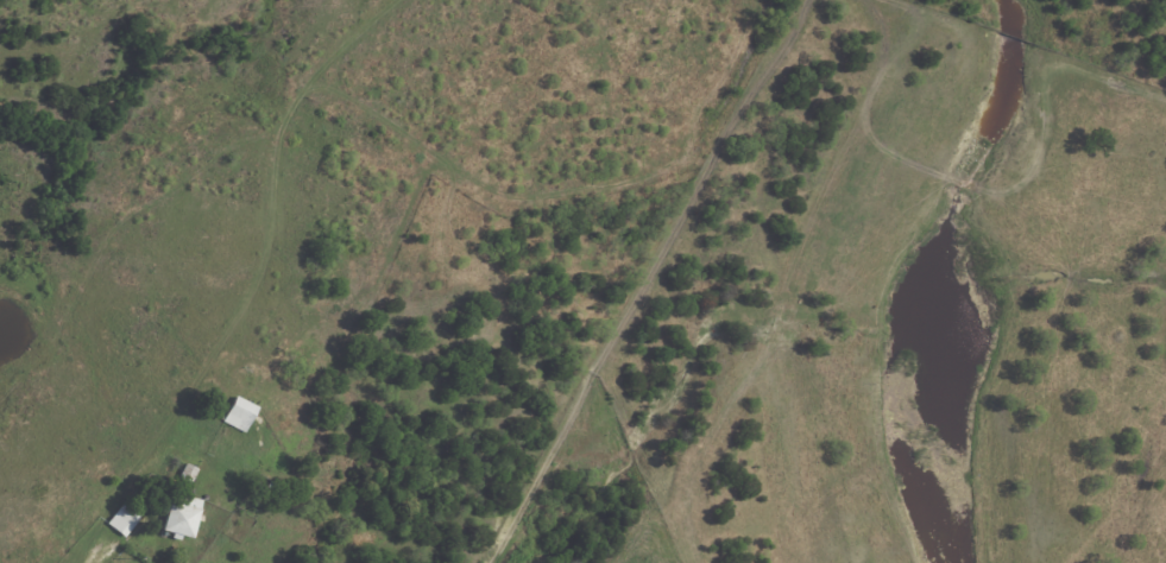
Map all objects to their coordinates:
building: (239, 415)
building: (187, 474)
building: (275, 489)
building: (179, 517)
building: (124, 520)
road: (101, 553)

